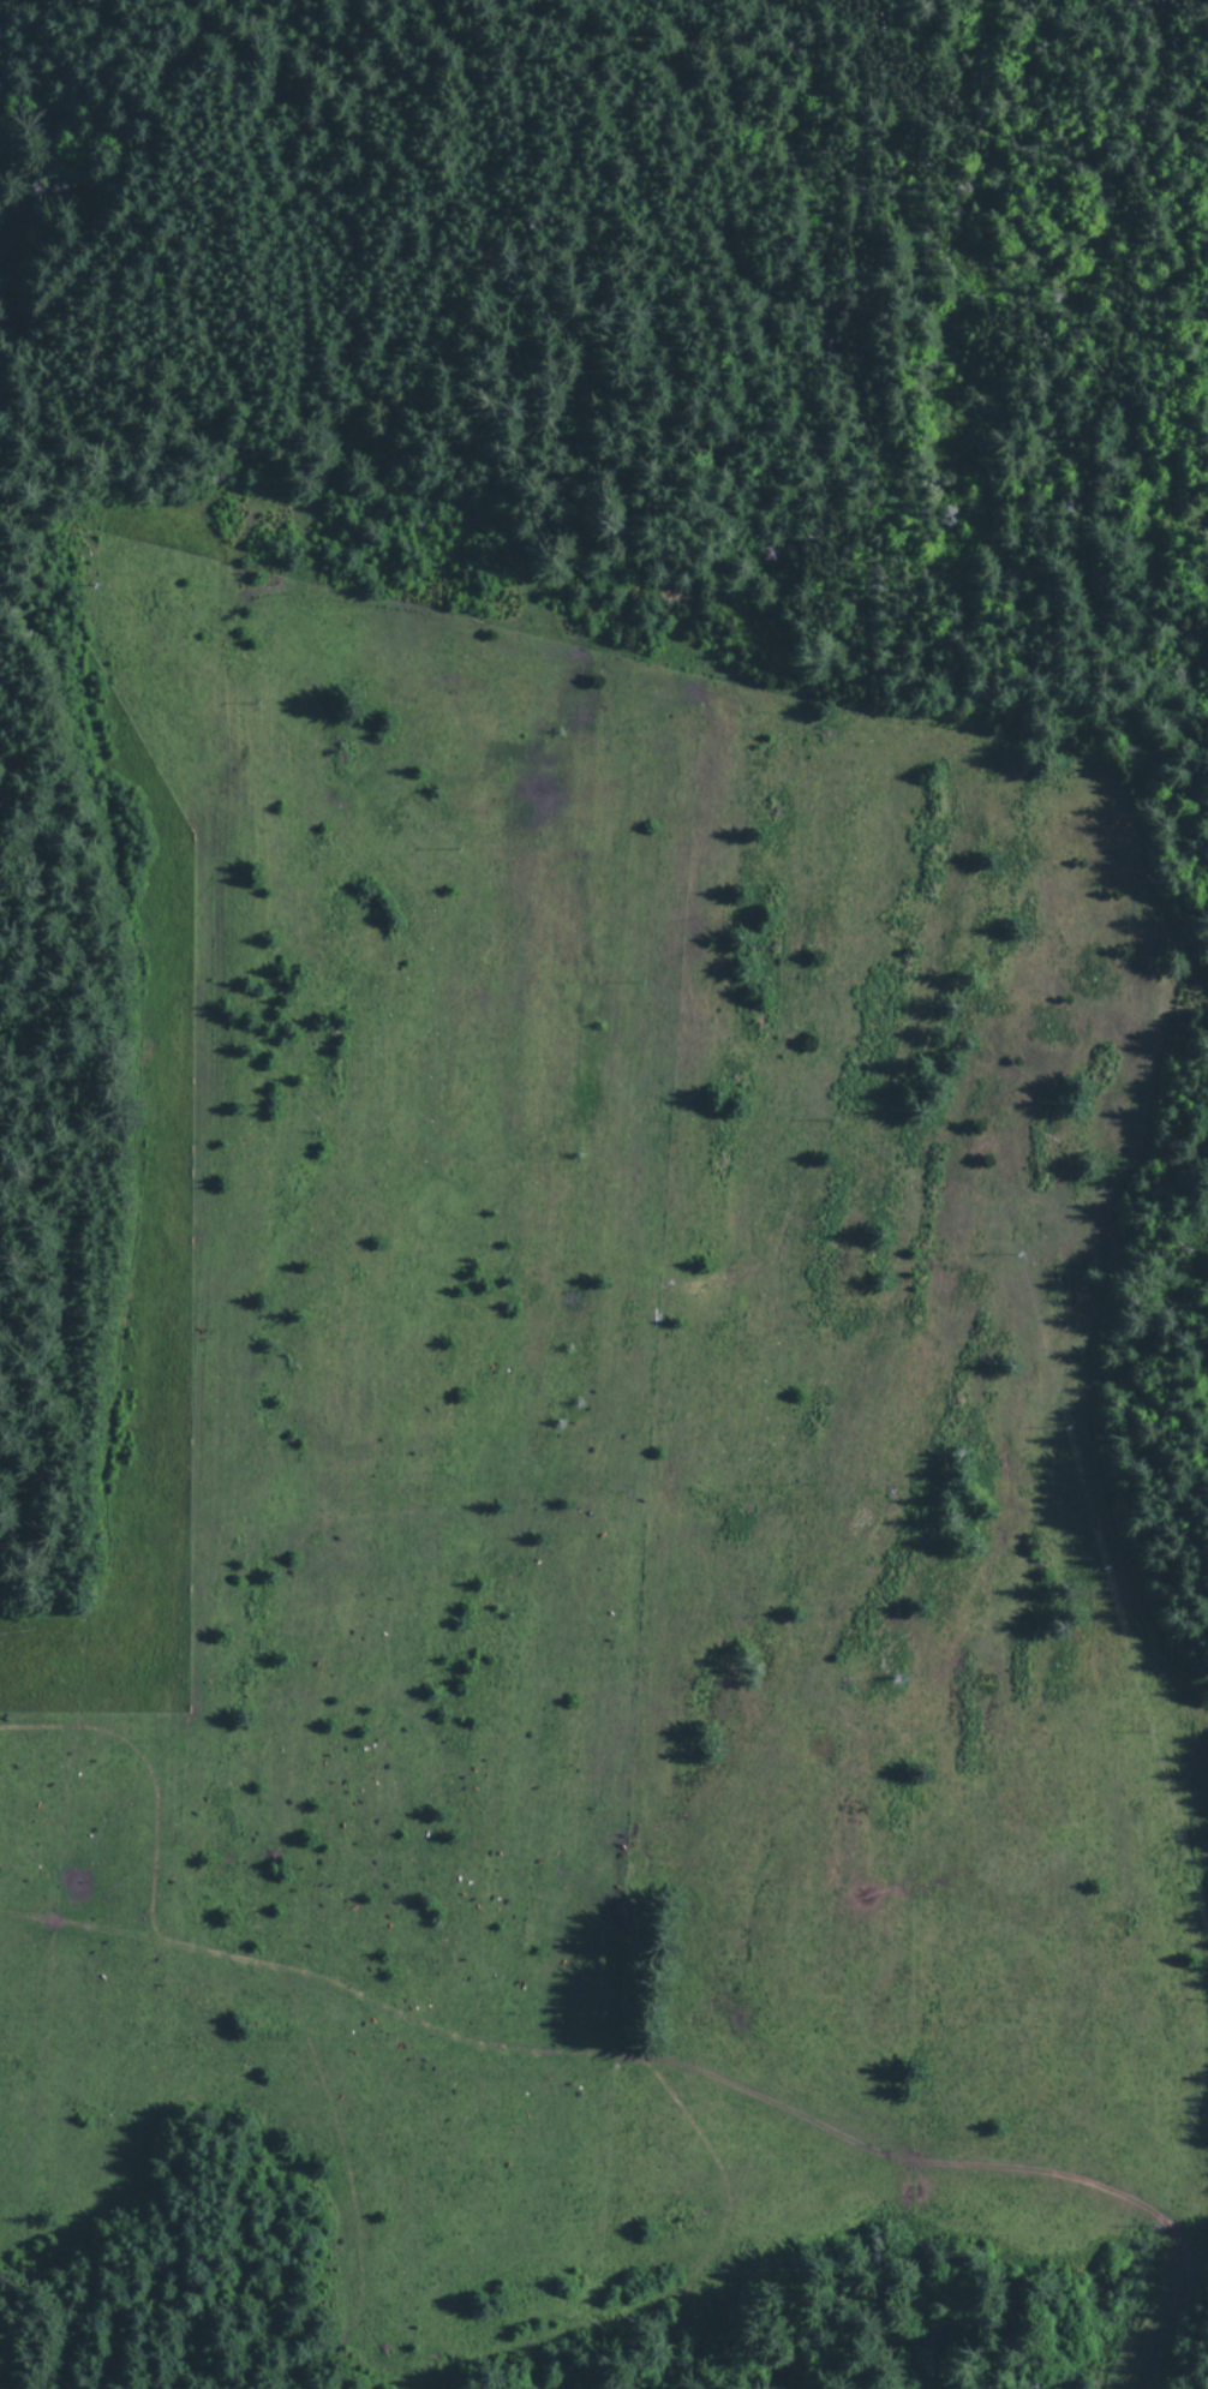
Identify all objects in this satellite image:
road: (1179, 2306)

